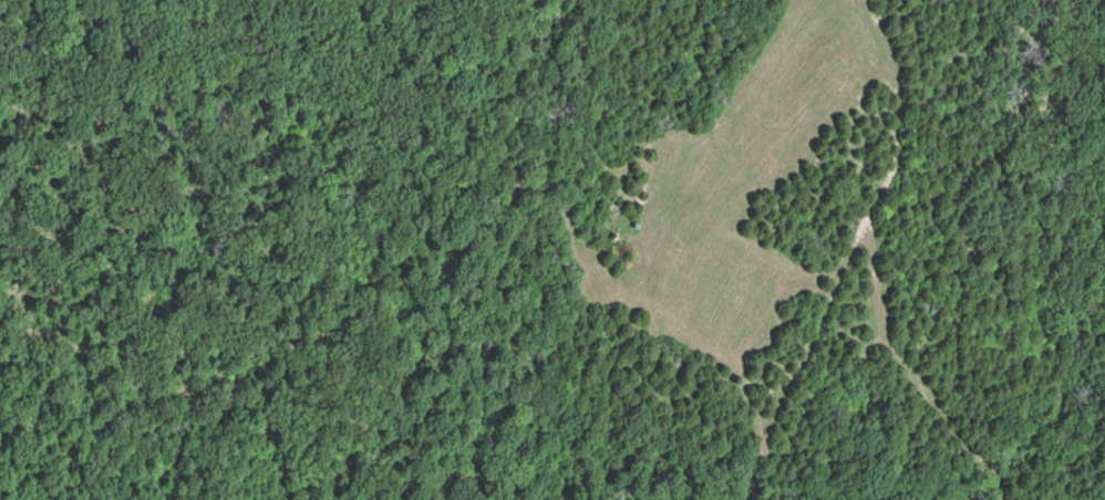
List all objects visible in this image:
road: (816, 251)

